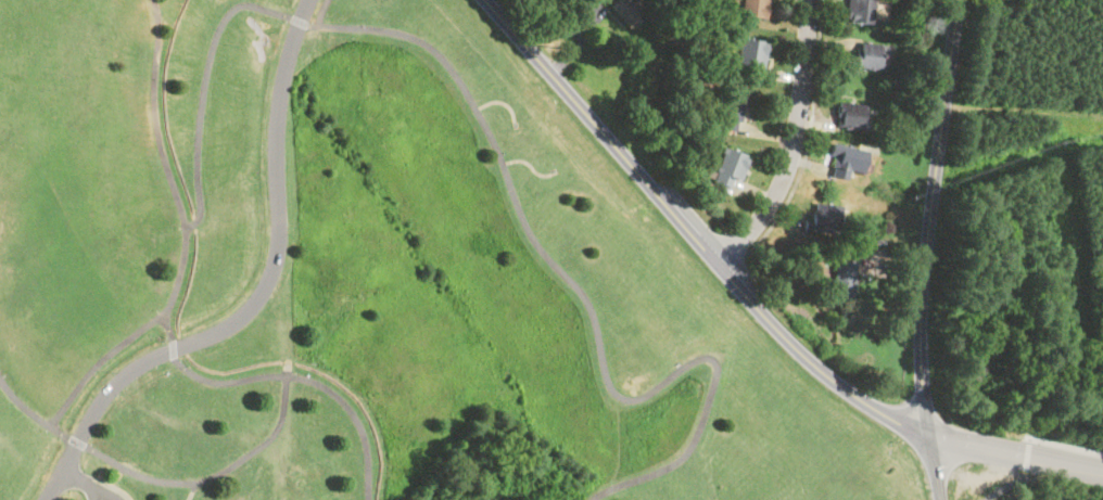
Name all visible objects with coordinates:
building: (752, 8)
building: (626, 10)
building: (858, 11)
road: (324, 13)
building: (750, 53)
building: (870, 56)
road: (500, 101)
building: (730, 110)
road: (153, 115)
building: (847, 115)
road: (808, 137)
road: (794, 142)
road: (528, 162)
building: (845, 162)
building: (727, 166)
road: (502, 168)
road: (929, 217)
building: (822, 218)
road: (692, 234)
park: (371, 279)
building: (844, 281)
road: (252, 298)
road: (109, 354)
road: (286, 376)
road: (1064, 445)
road: (1027, 454)
road: (1016, 457)
road: (937, 467)
road: (195, 476)
road: (86, 478)
road: (112, 483)
road: (1006, 486)
road: (193, 487)
road: (92, 491)

